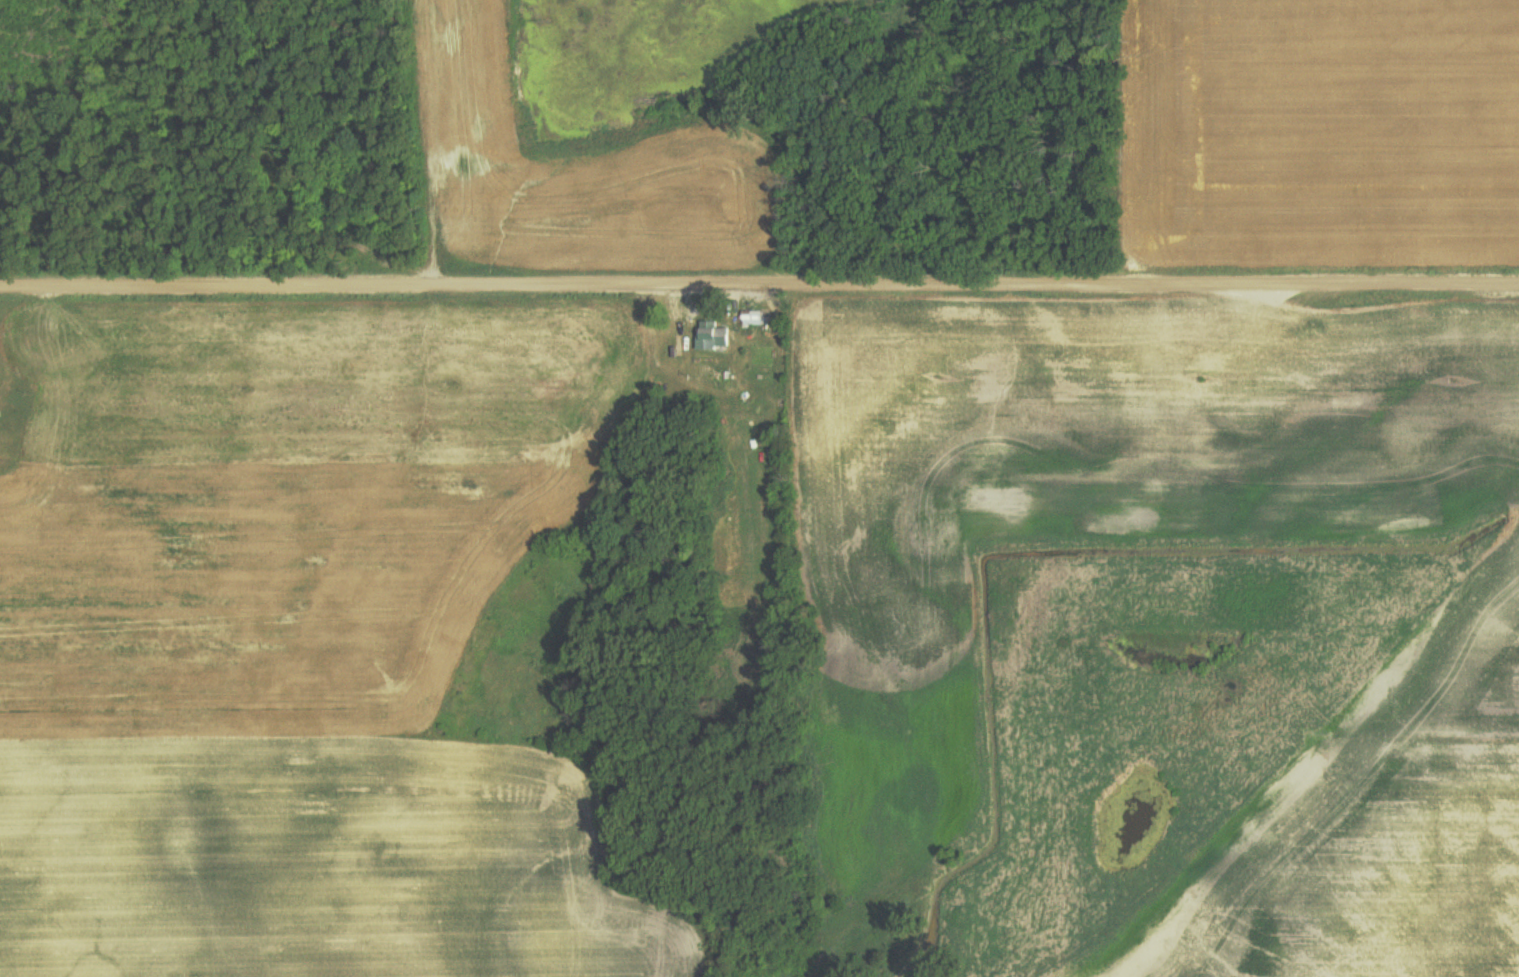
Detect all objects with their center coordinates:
crop: (546, 153)
road: (759, 286)
crop: (1258, 289)
building: (751, 318)
building: (711, 336)
crop: (286, 656)
crop: (1415, 832)

